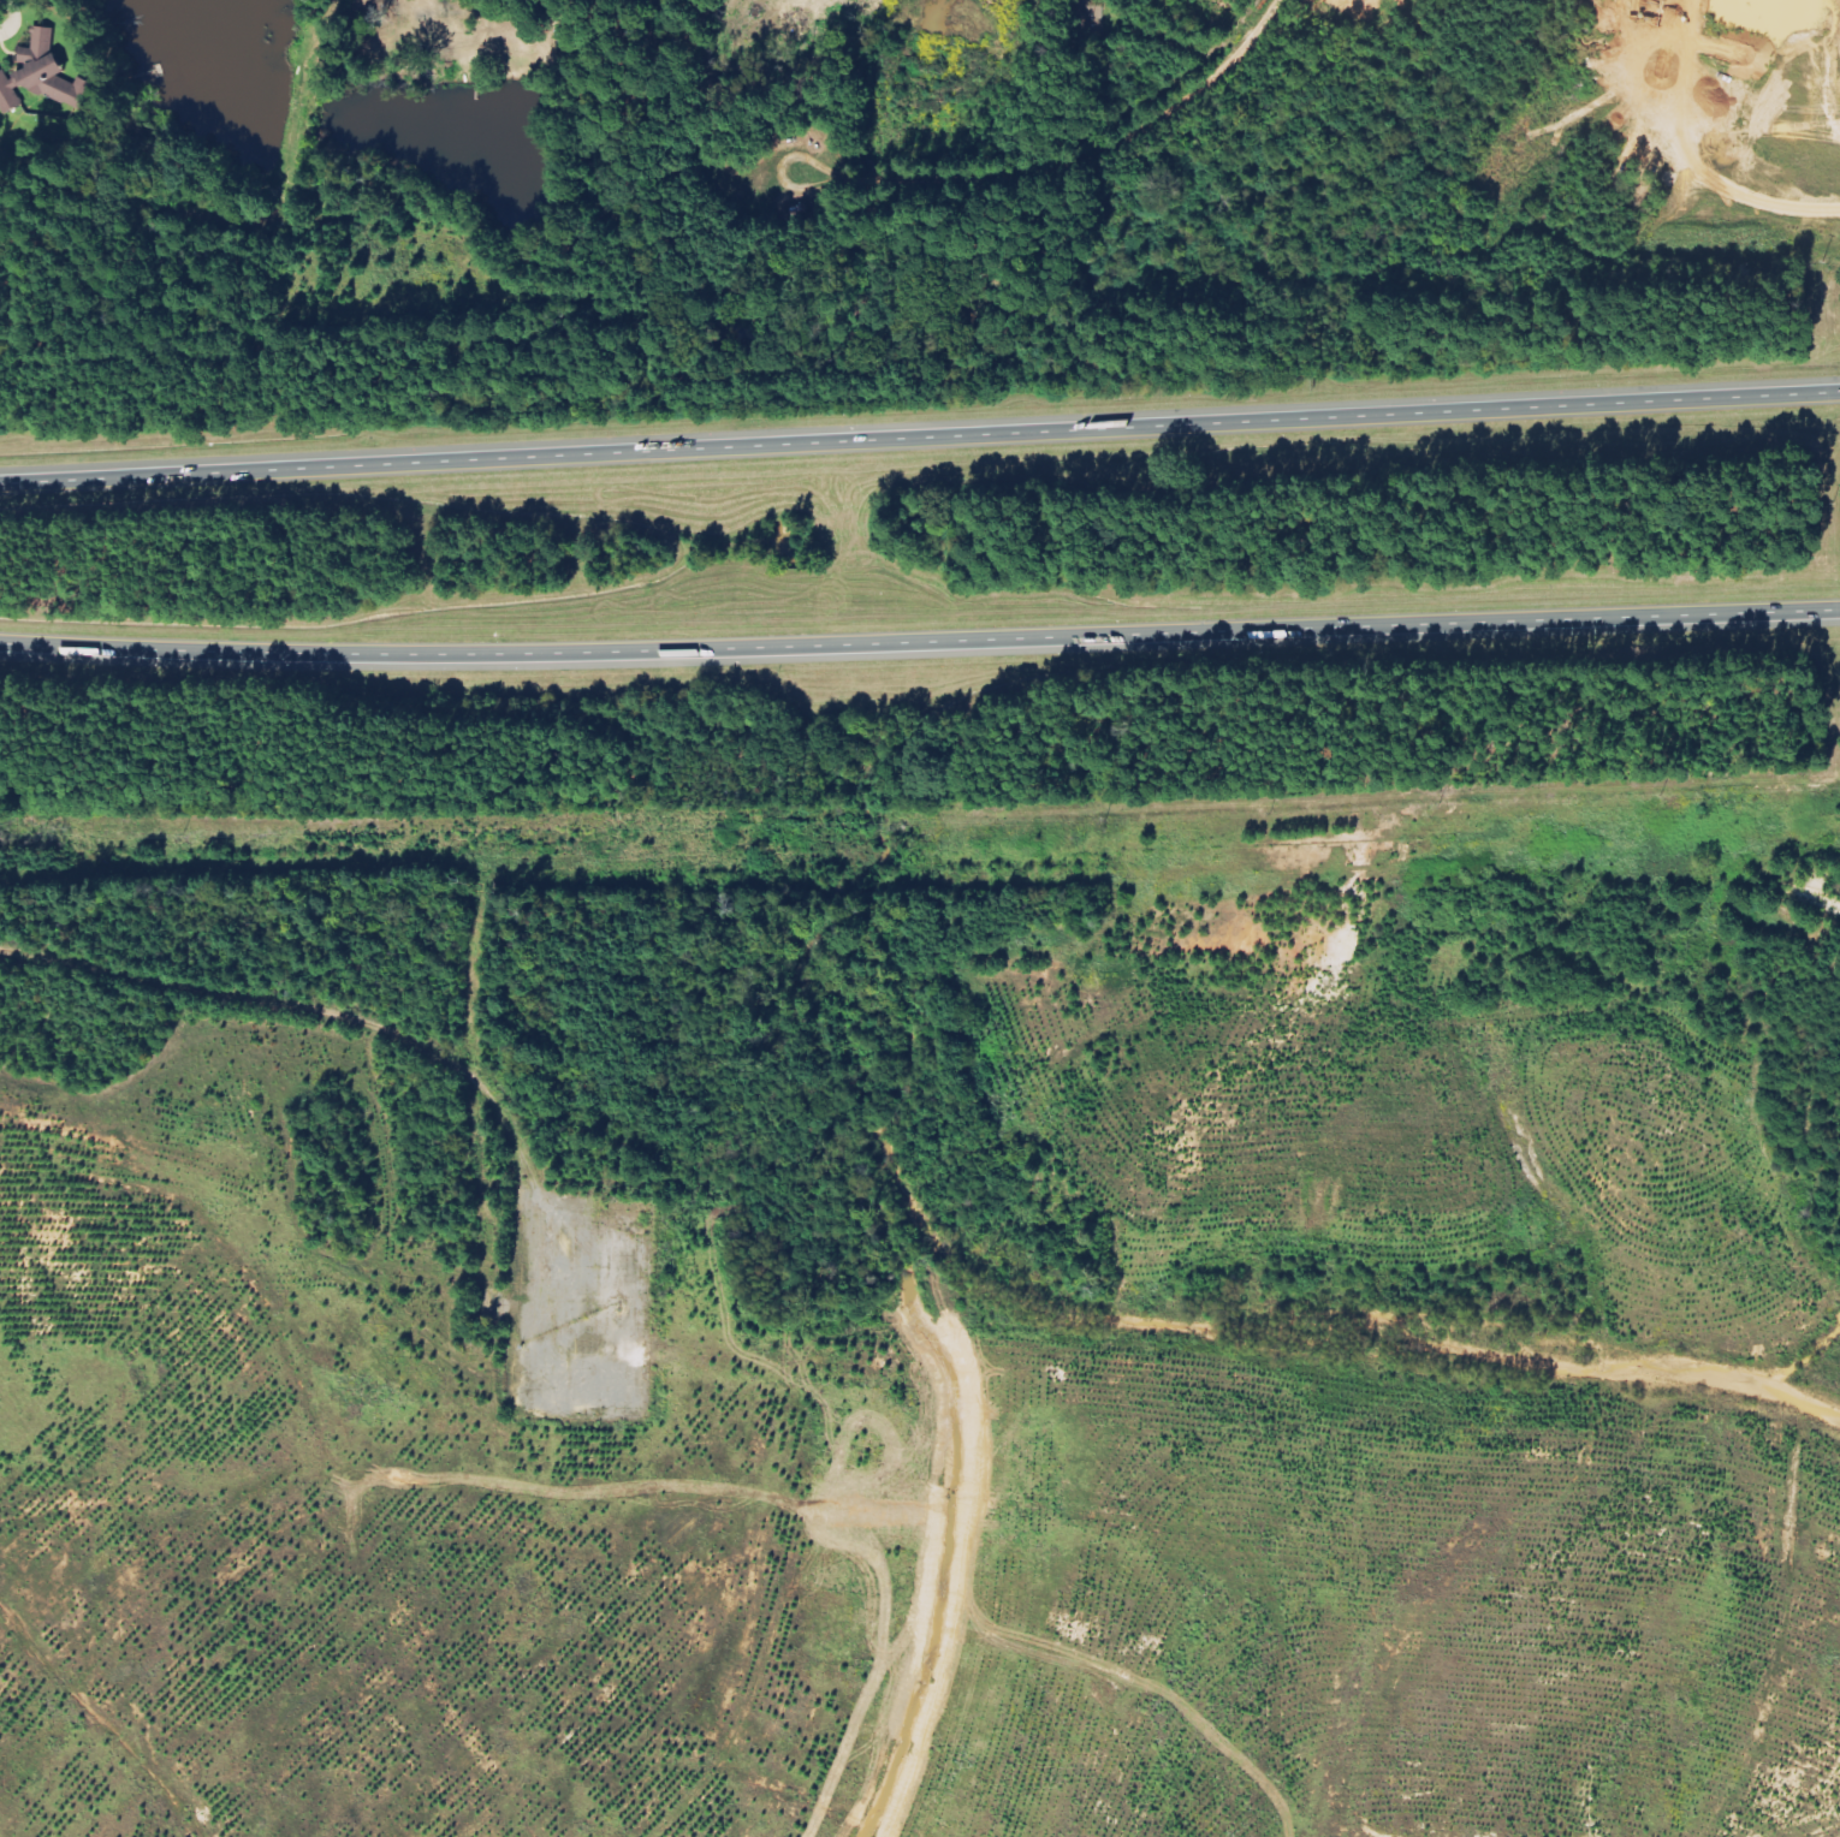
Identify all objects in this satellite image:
building: (41, 59)
building: (6, 90)
road: (920, 438)
road: (920, 640)

